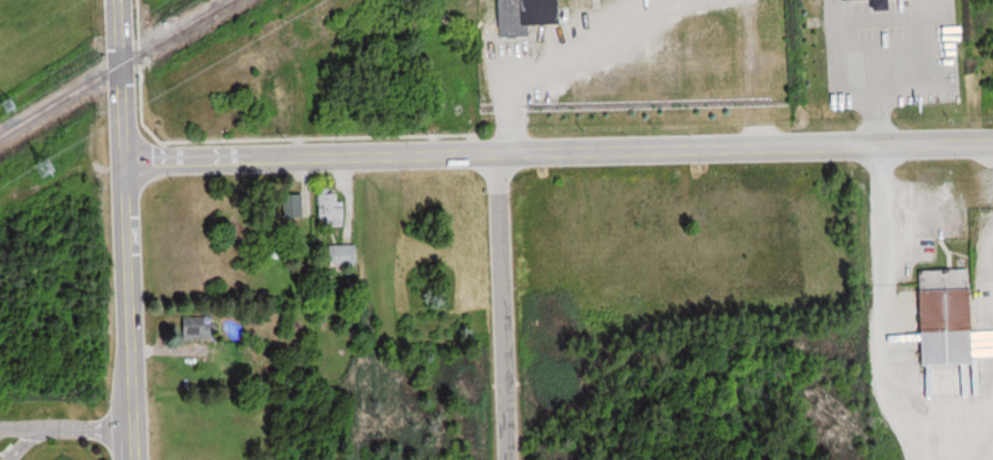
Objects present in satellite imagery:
building: (529, 15)
railway: (118, 70)
road: (124, 78)
power tower: (12, 102)
road: (559, 149)
power tower: (47, 166)
building: (330, 208)
building: (346, 255)
road: (506, 305)
road: (130, 308)
building: (948, 317)
building: (197, 327)
building: (228, 362)
road: (67, 434)

